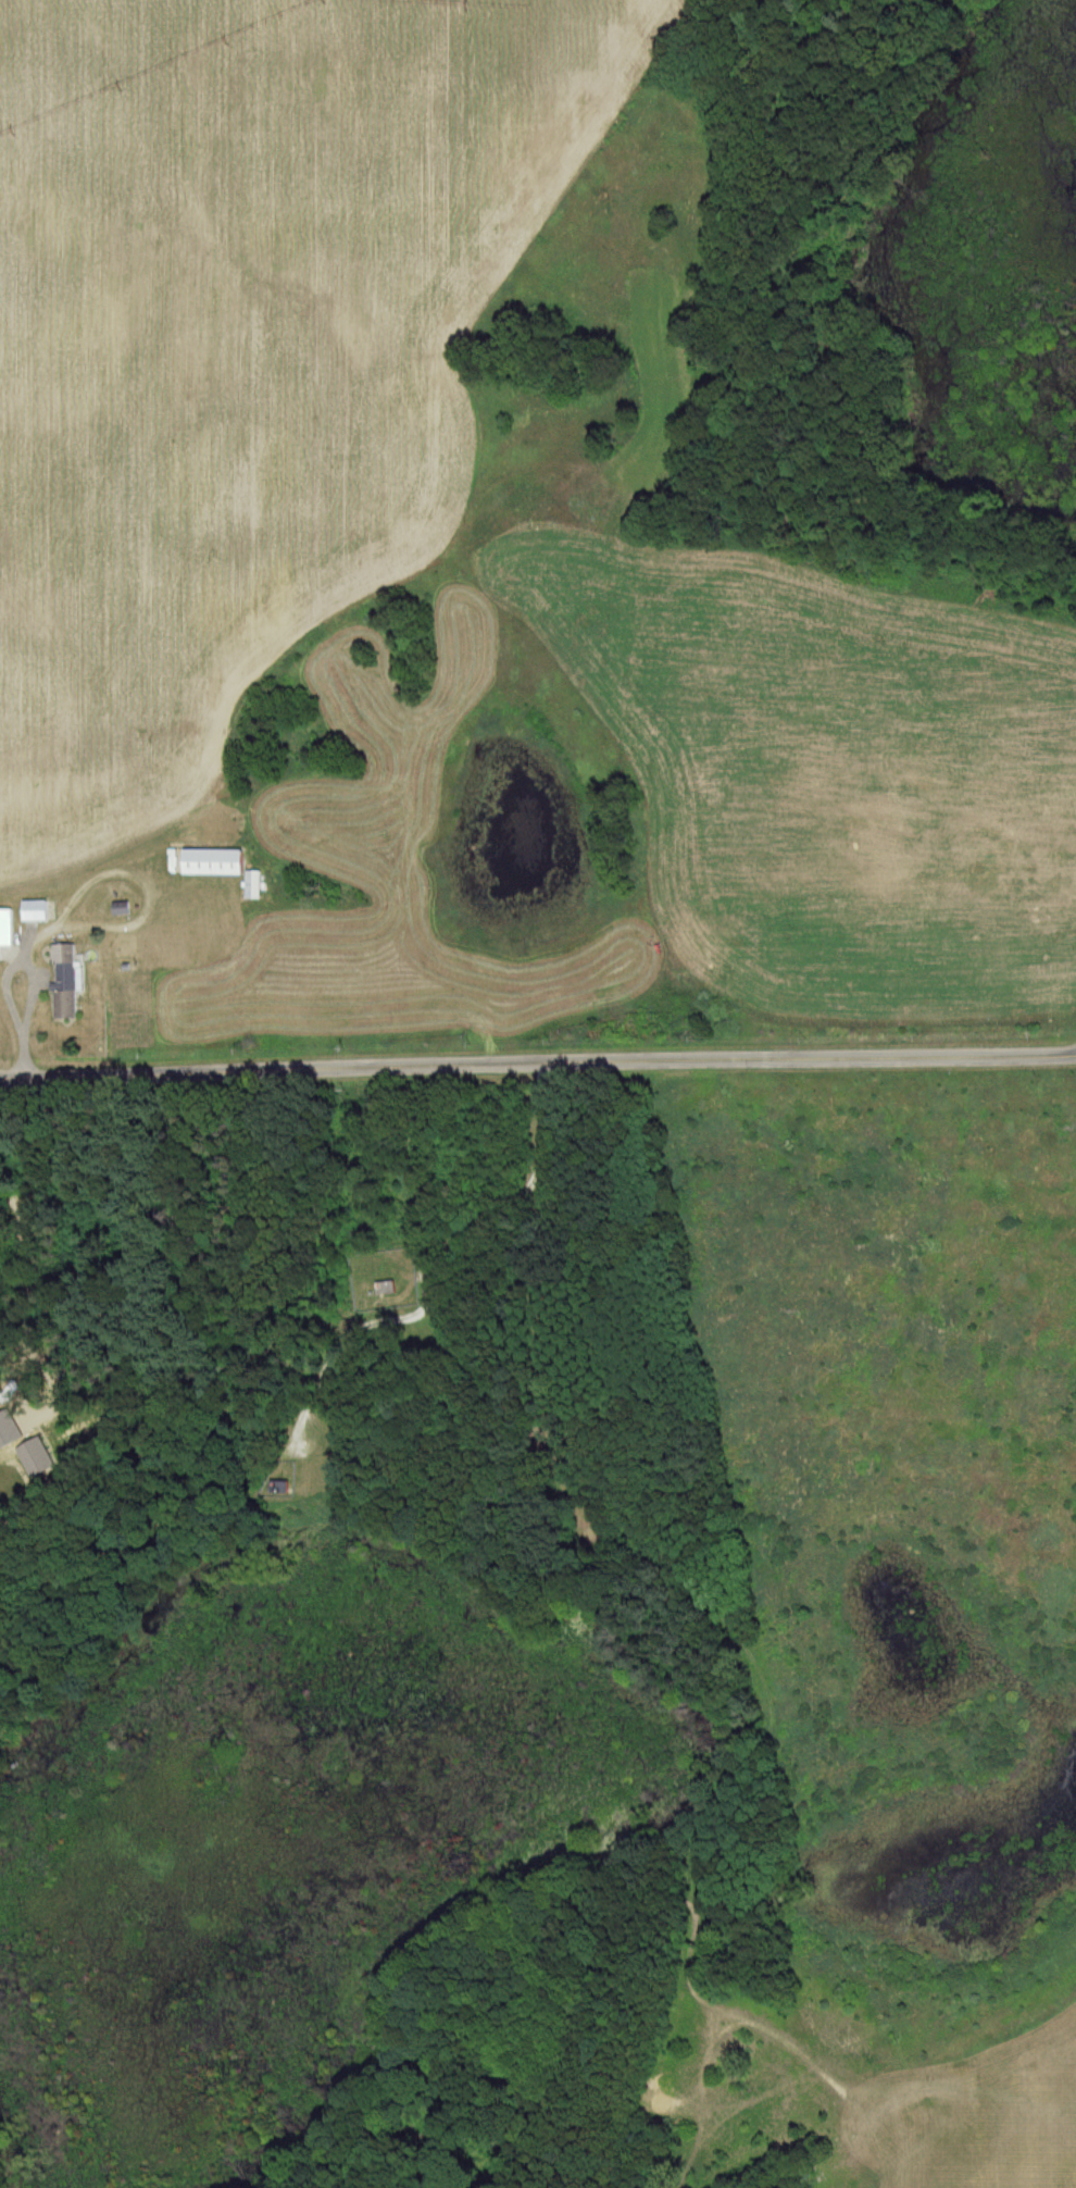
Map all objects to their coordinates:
building: (227, 869)
building: (39, 911)
building: (9, 928)
road: (7, 980)
building: (68, 982)
road: (537, 1067)
building: (389, 1288)
road: (32, 1345)
building: (284, 1488)

